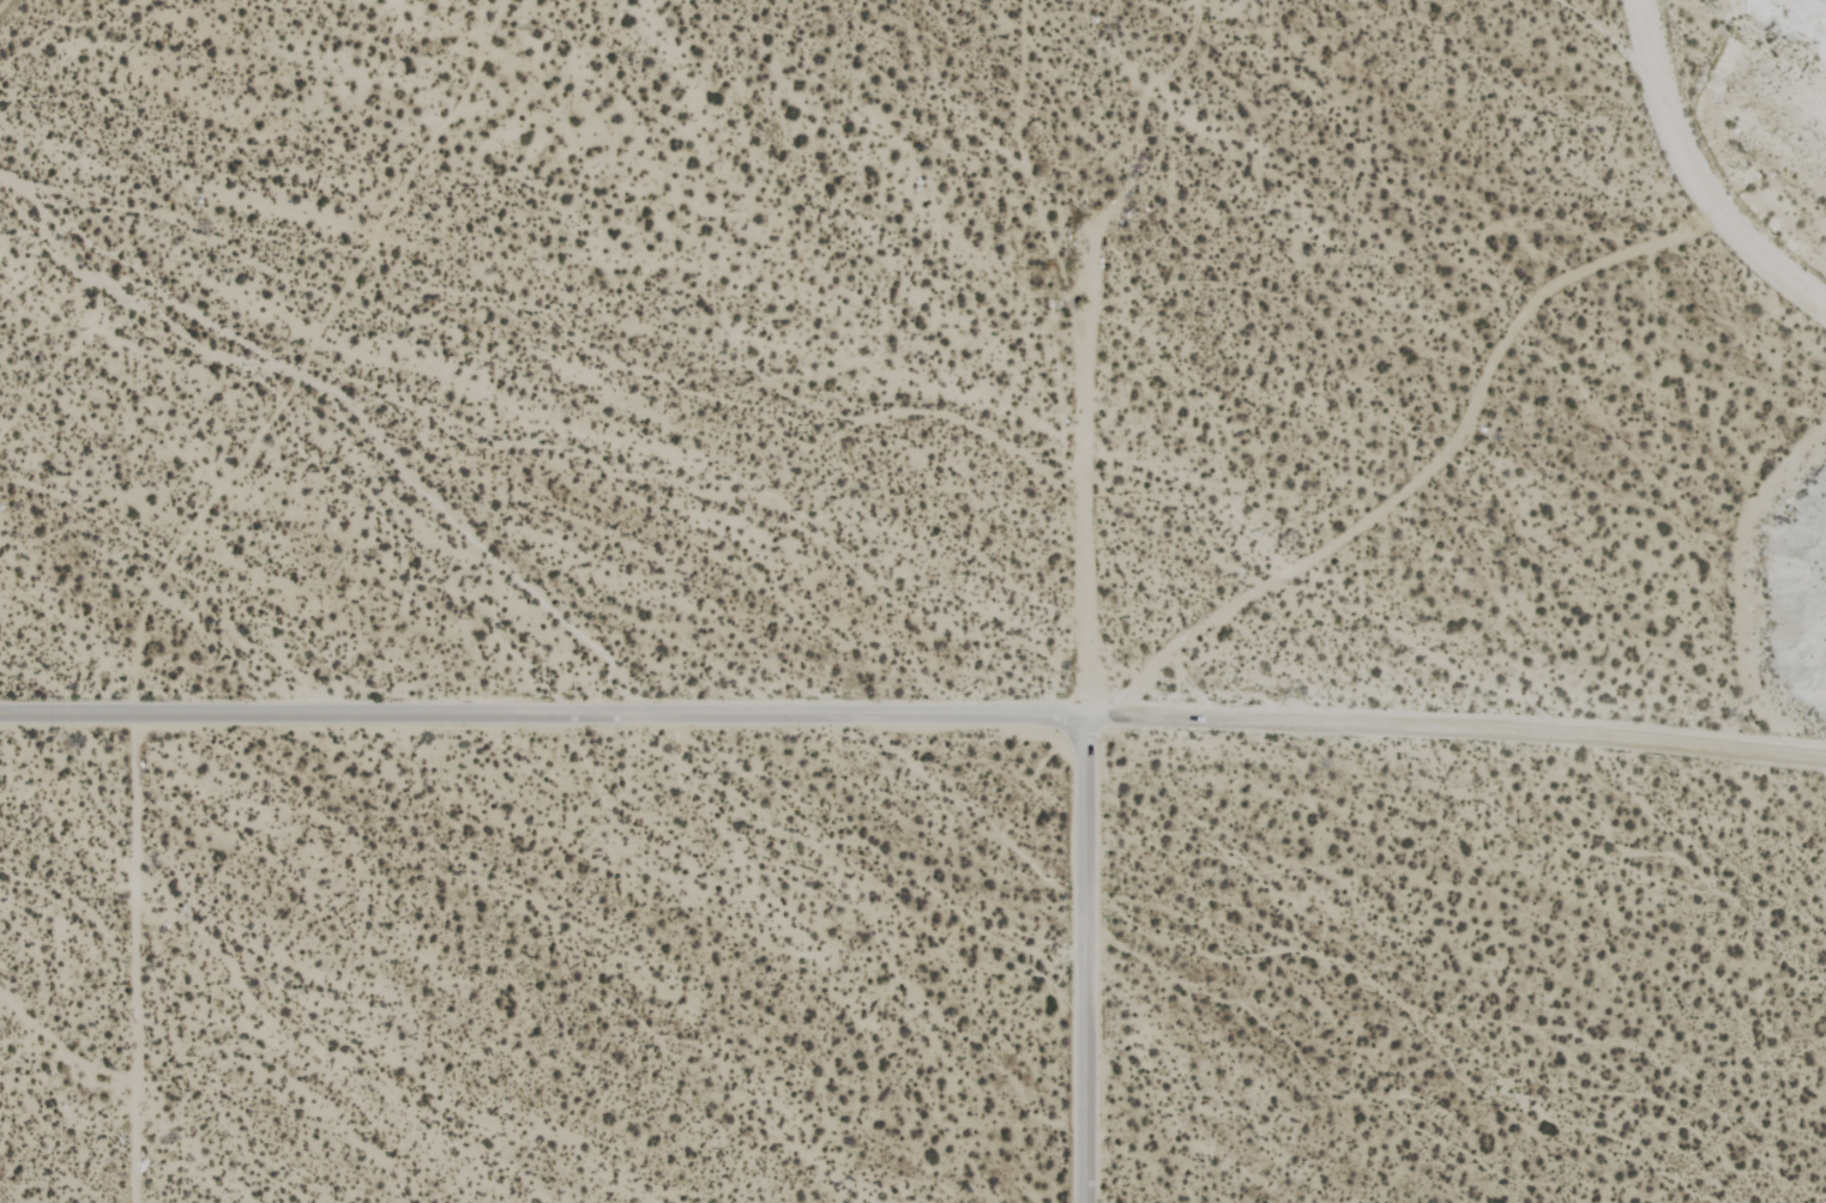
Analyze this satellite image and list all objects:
quarry: (1818, 48)
road: (1697, 176)
road: (542, 713)
road: (1454, 729)
road: (135, 957)
road: (1084, 959)

